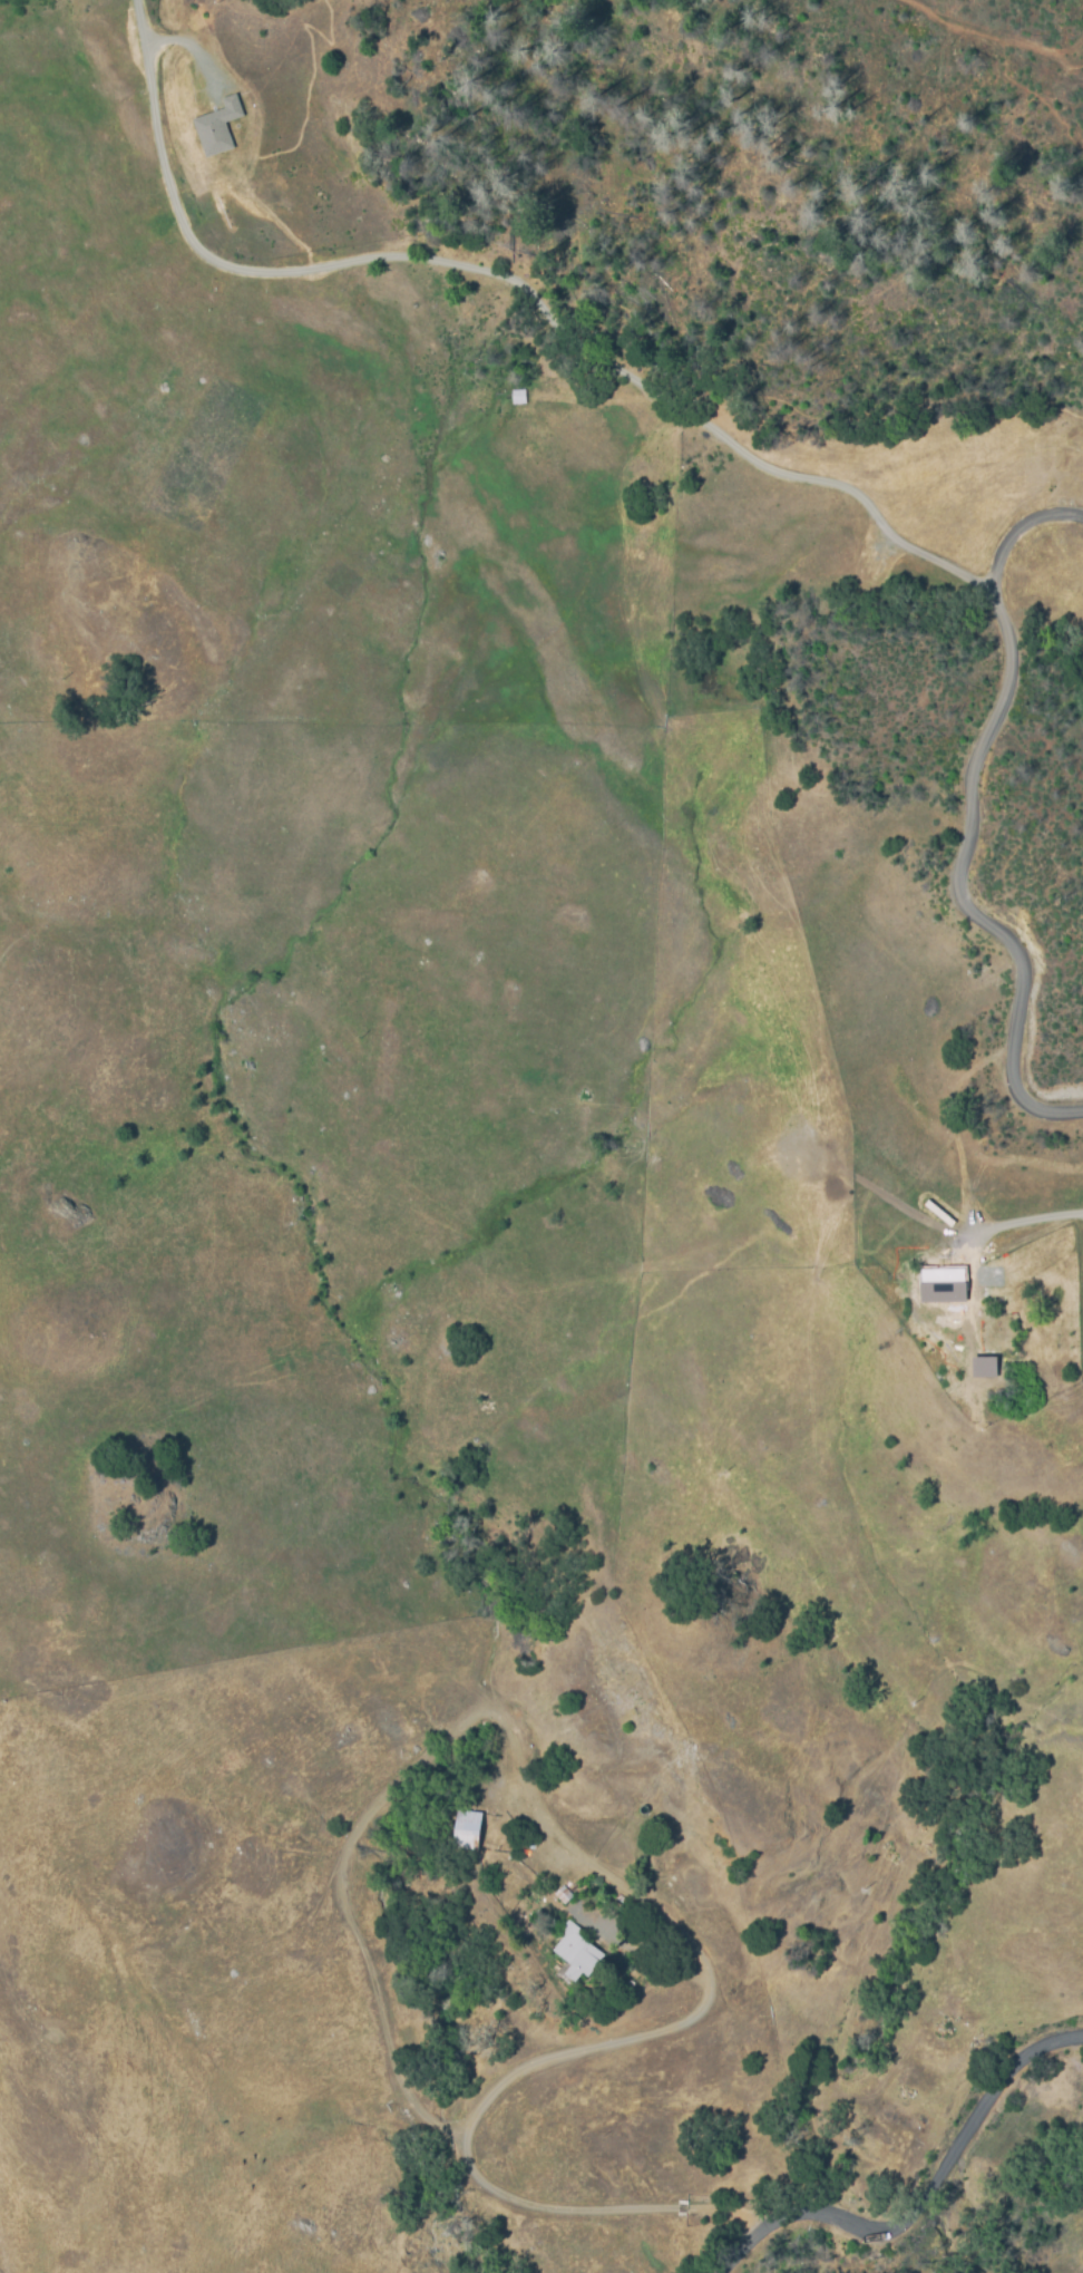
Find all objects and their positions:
building: (195, 25)
building: (217, 127)
building: (518, 397)
road: (748, 451)
road: (1021, 532)
road: (1013, 1223)
building: (482, 1818)
building: (462, 1828)
building: (686, 1881)
road: (648, 1886)
building: (564, 1896)
building: (601, 1940)
building: (575, 1953)
road: (920, 2196)

